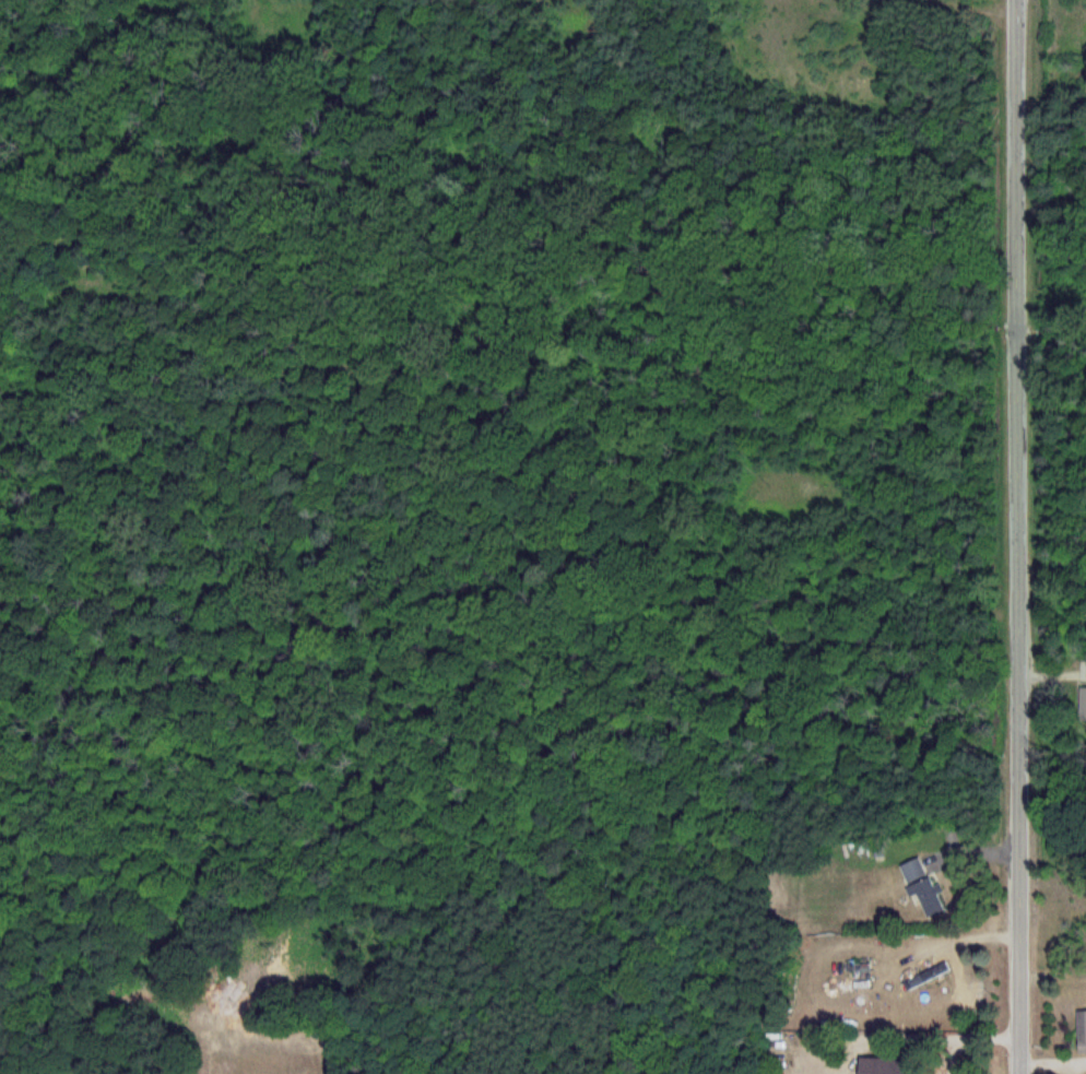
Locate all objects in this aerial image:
road: (969, 10)
road: (1022, 536)
building: (1085, 705)
building: (926, 888)
building: (1084, 1031)
building: (895, 1066)

